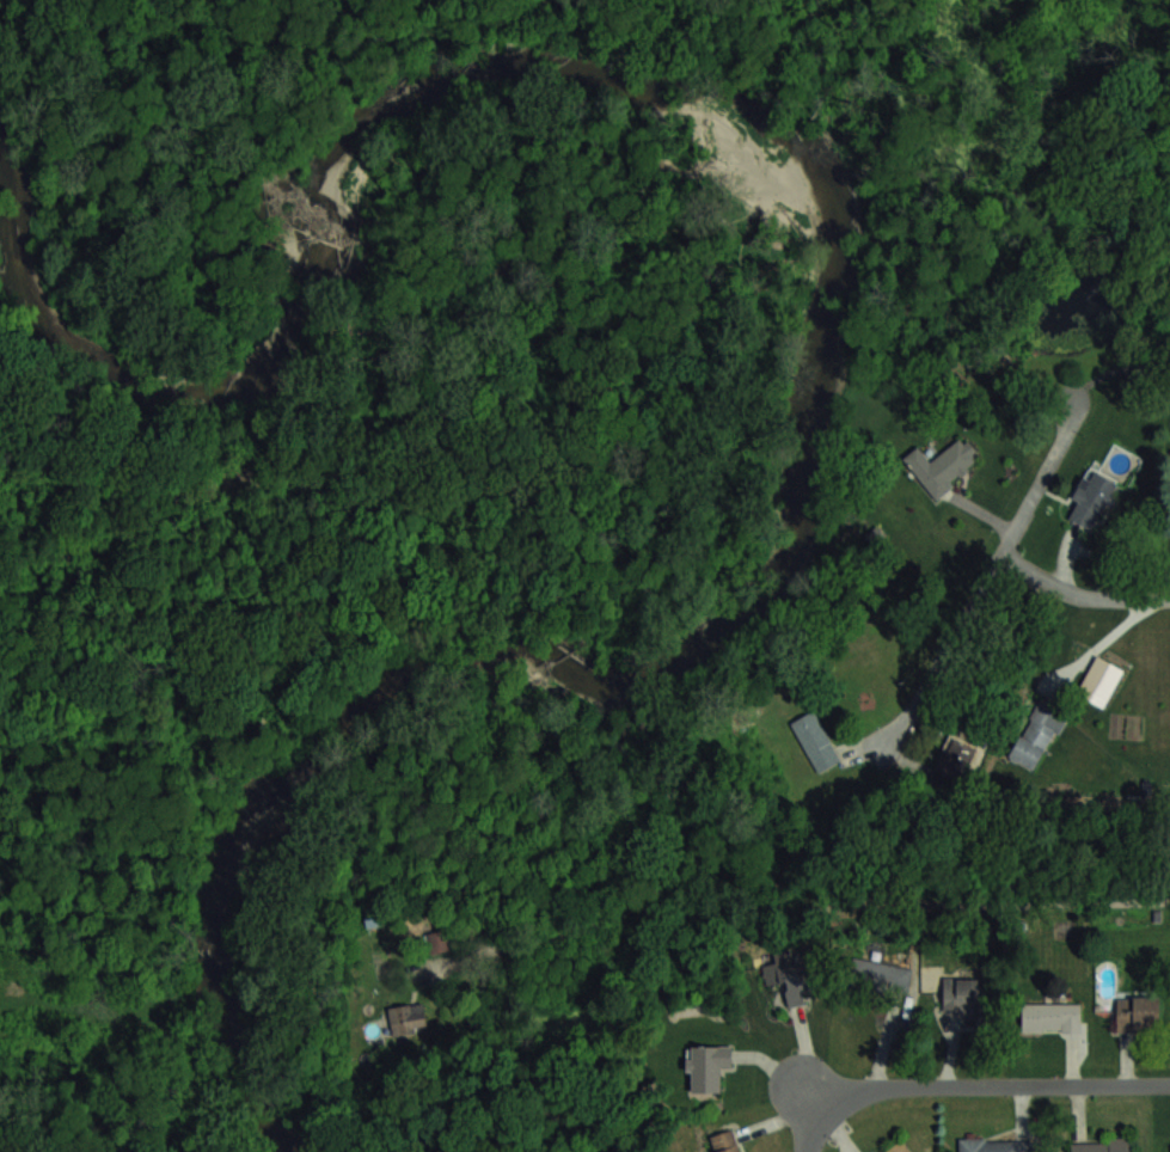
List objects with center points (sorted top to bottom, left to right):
river: (828, 278)
park: (272, 451)
building: (942, 466)
building: (1091, 500)
road: (1001, 564)
road: (1084, 592)
road: (1105, 647)
building: (1099, 681)
building: (1036, 735)
building: (814, 741)
building: (956, 759)
road: (733, 903)
building: (439, 942)
building: (790, 974)
building: (880, 975)
building: (963, 994)
building: (1137, 1013)
building: (1048, 1016)
building: (408, 1017)
building: (706, 1065)
road: (988, 1079)
road: (807, 1125)
building: (723, 1141)
building: (994, 1145)
building: (1101, 1145)
building: (899, 1147)

